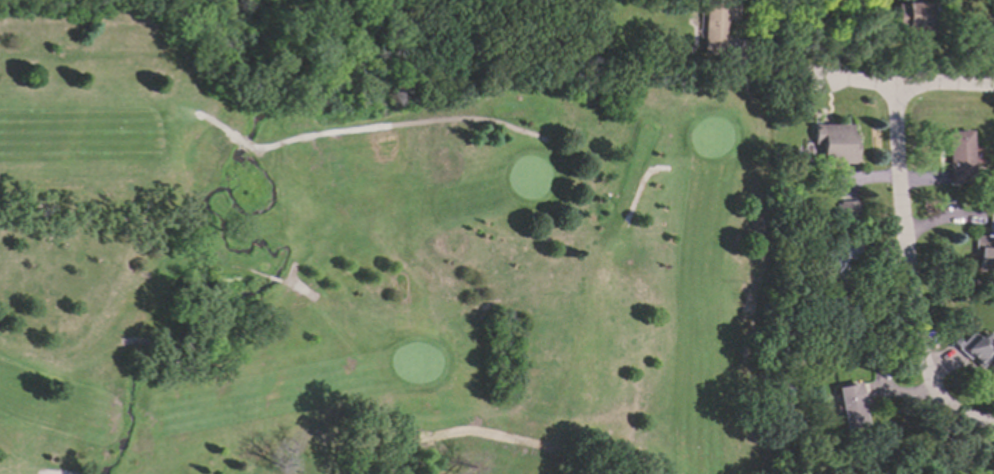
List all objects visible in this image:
building: (909, 19)
building: (714, 24)
building: (574, 45)
building: (730, 58)
building: (577, 60)
road: (831, 74)
road: (947, 85)
building: (833, 140)
building: (957, 156)
building: (846, 208)
road: (901, 244)
building: (985, 244)
building: (834, 260)
park: (371, 272)
building: (954, 340)
building: (977, 349)
building: (788, 389)
building: (849, 402)
road: (961, 417)

